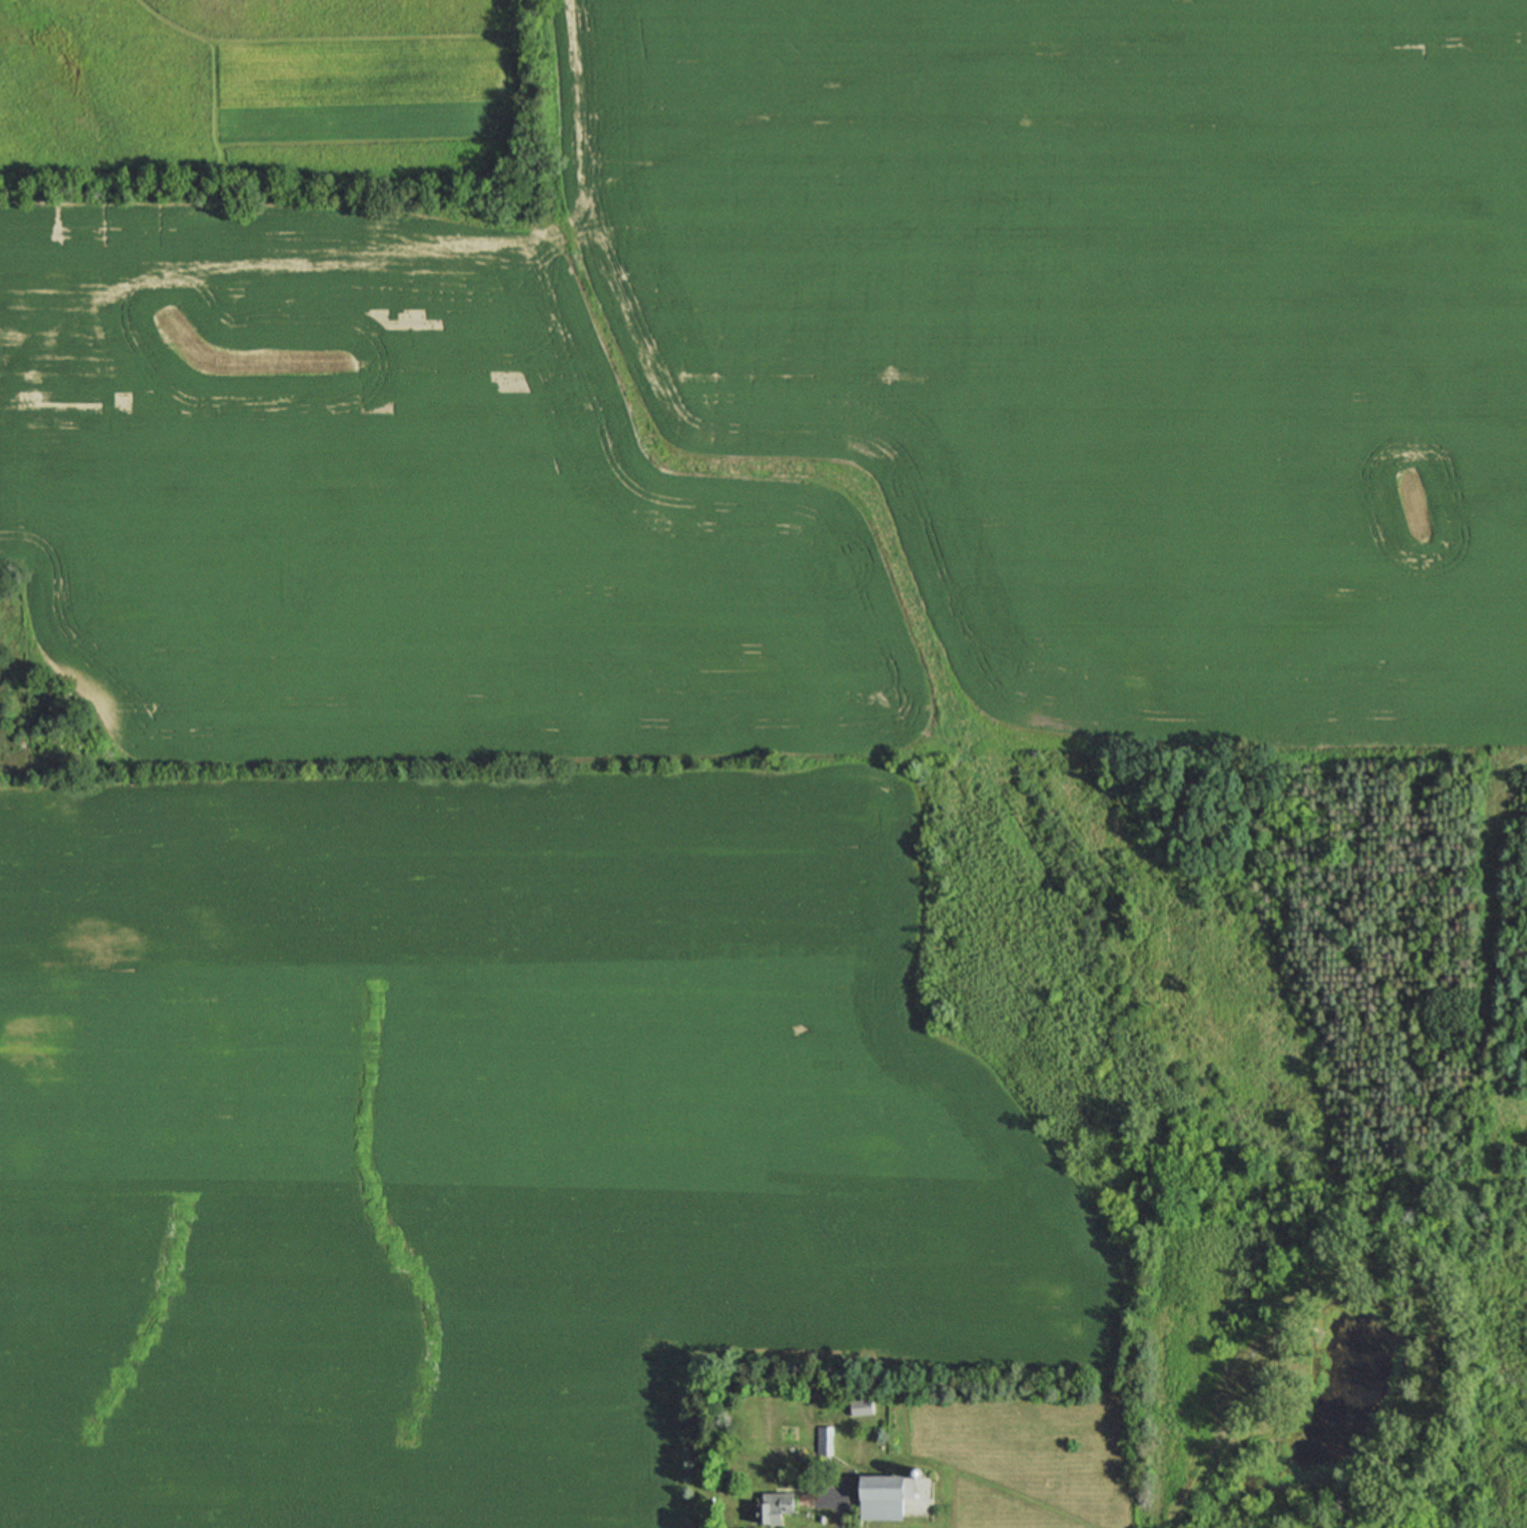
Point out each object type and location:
building: (859, 1407)
building: (823, 1440)
building: (880, 1498)
building: (772, 1507)

